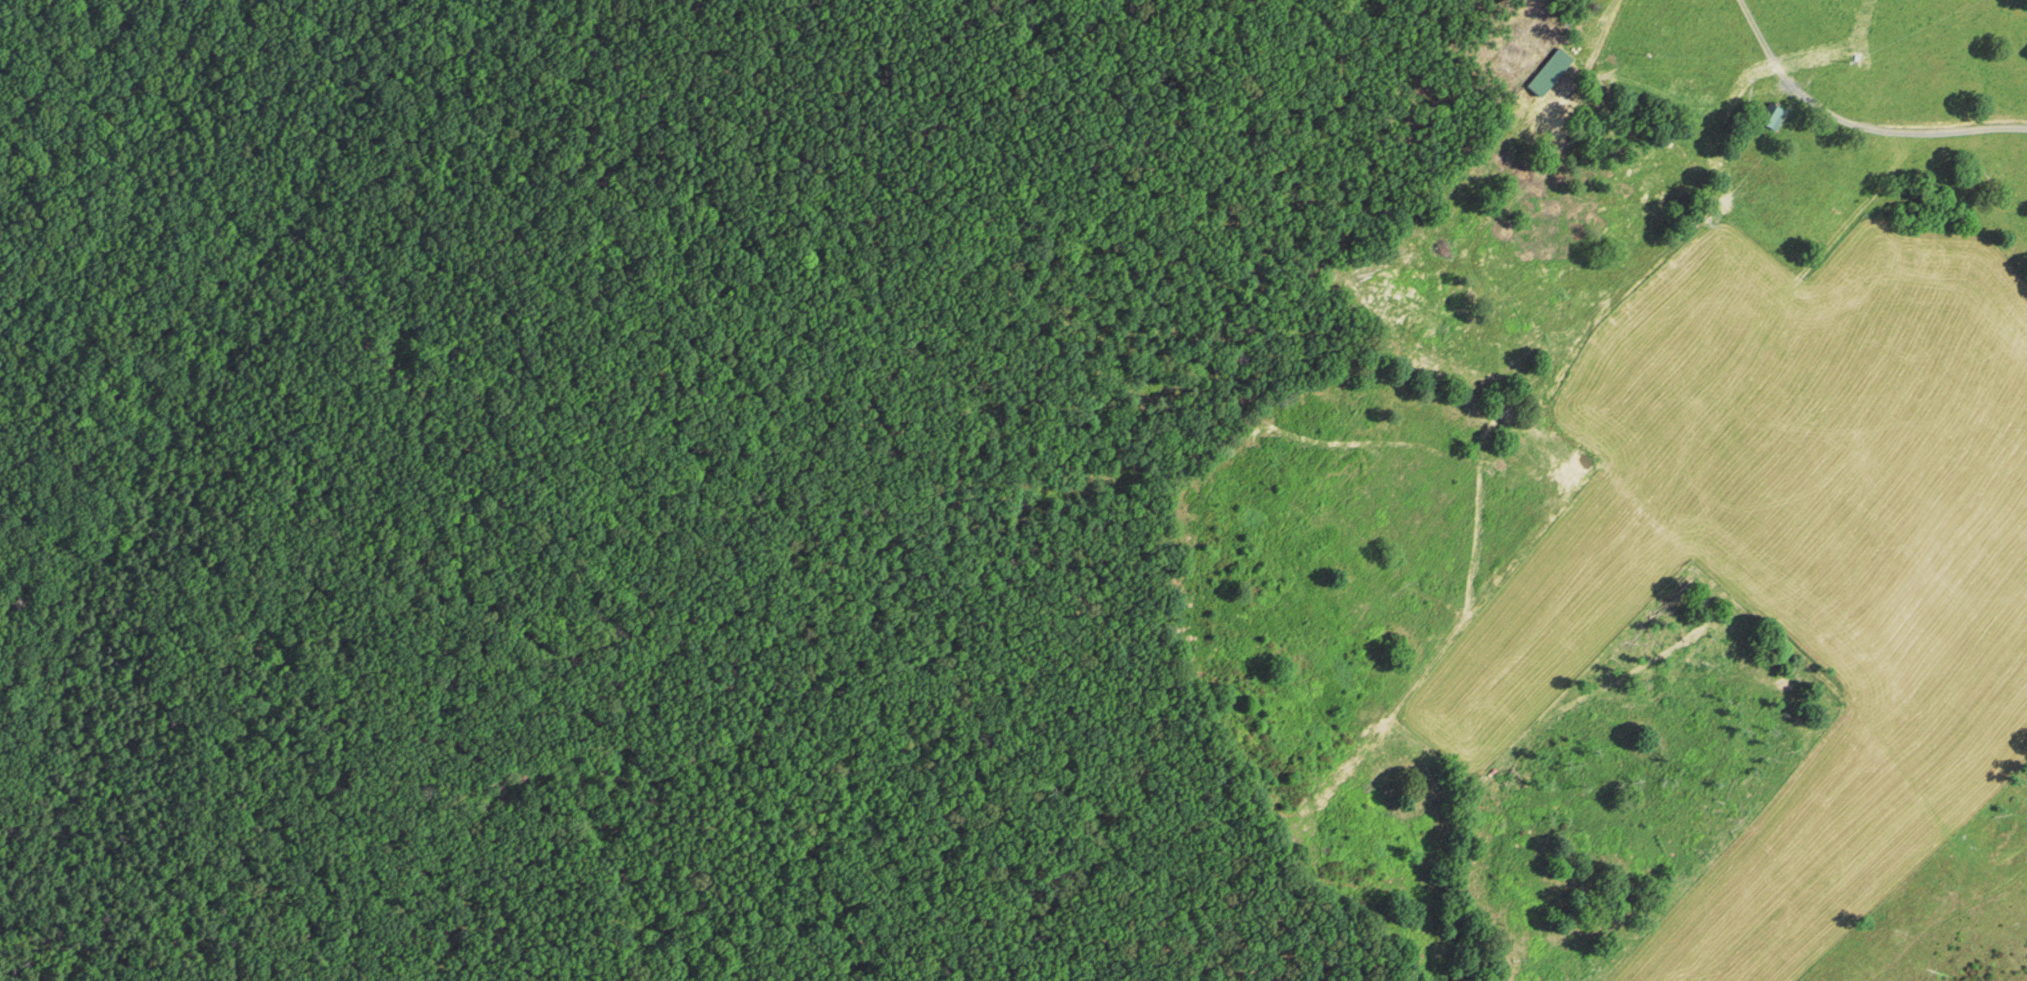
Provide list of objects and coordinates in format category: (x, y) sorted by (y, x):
road: (1900, 120)

